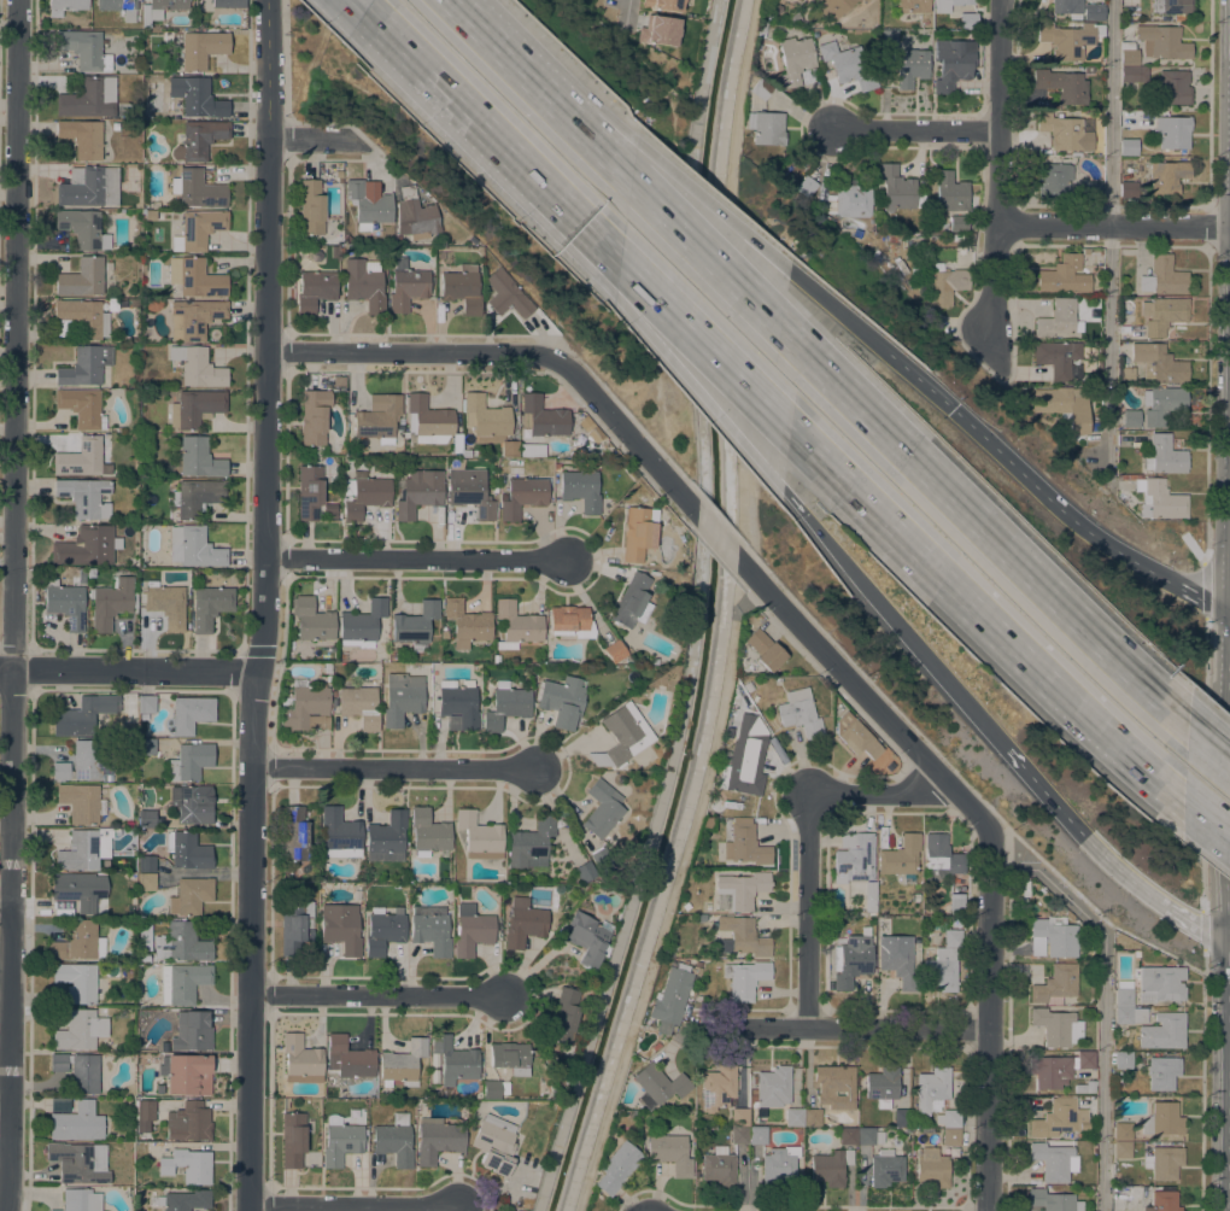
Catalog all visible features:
building: (863, 0)
building: (868, 0)
building: (228, 2)
building: (662, 4)
building: (949, 4)
building: (64, 6)
building: (912, 6)
building: (1066, 6)
building: (118, 7)
road: (357, 7)
building: (832, 7)
building: (1172, 7)
building: (159, 8)
building: (1093, 11)
road: (628, 18)
building: (967, 21)
building: (657, 30)
building: (889, 39)
building: (1066, 40)
building: (1161, 41)
building: (83, 48)
building: (201, 48)
building: (1127, 54)
building: (793, 60)
building: (953, 63)
building: (848, 64)
building: (910, 66)
road: (549, 71)
building: (1134, 74)
road: (428, 75)
building: (1062, 84)
building: (1173, 87)
building: (761, 88)
road: (540, 92)
building: (88, 98)
building: (198, 98)
building: (766, 127)
road: (915, 129)
building: (1068, 130)
building: (1172, 131)
building: (81, 138)
building: (198, 139)
road: (317, 140)
building: (1127, 146)
road: (997, 165)
building: (1166, 176)
building: (1054, 179)
building: (806, 186)
building: (88, 187)
building: (197, 189)
building: (898, 189)
building: (1094, 189)
building: (1127, 189)
building: (950, 191)
road: (558, 195)
building: (850, 200)
building: (368, 205)
road: (715, 206)
building: (311, 207)
building: (146, 213)
building: (415, 213)
road: (555, 217)
building: (957, 223)
road: (1113, 224)
building: (82, 228)
building: (198, 229)
road: (1109, 235)
building: (955, 236)
building: (347, 238)
building: (891, 238)
building: (1084, 251)
road: (709, 256)
building: (1064, 275)
building: (1162, 276)
building: (82, 277)
building: (194, 277)
building: (364, 283)
building: (408, 285)
building: (945, 285)
building: (462, 288)
building: (314, 289)
building: (506, 294)
building: (111, 304)
building: (152, 304)
road: (839, 311)
building: (1162, 314)
building: (195, 316)
building: (80, 318)
building: (1059, 318)
road: (709, 341)
road: (519, 355)
building: (1056, 357)
building: (1159, 363)
building: (84, 365)
building: (197, 367)
building: (1127, 374)
building: (338, 380)
road: (922, 381)
road: (701, 392)
building: (1161, 403)
building: (81, 406)
building: (1066, 406)
building: (195, 408)
traffic signals: (956, 410)
building: (541, 416)
building: (314, 417)
building: (377, 417)
building: (1131, 419)
building: (429, 422)
building: (488, 422)
building: (585, 422)
building: (465, 454)
building: (1165, 456)
building: (199, 457)
building: (82, 458)
building: (557, 467)
building: (1126, 476)
building: (469, 489)
building: (580, 489)
building: (309, 491)
building: (417, 492)
building: (82, 495)
building: (364, 495)
building: (195, 496)
building: (522, 496)
building: (1159, 499)
road: (1084, 523)
building: (673, 525)
road: (988, 527)
building: (638, 533)
road: (717, 538)
building: (87, 545)
building: (194, 546)
road: (418, 561)
building: (89, 572)
road: (748, 597)
building: (632, 601)
building: (111, 602)
building: (65, 603)
building: (164, 603)
road: (17, 605)
building: (210, 605)
road: (264, 605)
road: (890, 615)
road: (990, 616)
building: (570, 621)
building: (415, 622)
building: (467, 622)
building: (311, 624)
building: (362, 624)
building: (516, 625)
building: (765, 649)
building: (614, 651)
building: (496, 659)
building: (324, 667)
road: (128, 671)
road: (866, 695)
building: (402, 697)
building: (561, 700)
building: (145, 703)
building: (457, 704)
building: (359, 706)
building: (505, 706)
building: (305, 707)
building: (744, 707)
building: (799, 713)
building: (83, 714)
building: (188, 714)
building: (143, 716)
building: (622, 735)
building: (856, 735)
road: (1211, 743)
building: (146, 747)
building: (189, 761)
building: (83, 762)
building: (879, 768)
road: (398, 770)
building: (738, 771)
building: (81, 802)
building: (192, 803)
building: (716, 807)
building: (602, 808)
building: (147, 819)
road: (1208, 820)
road: (806, 829)
building: (428, 832)
building: (340, 833)
building: (294, 835)
building: (479, 835)
building: (386, 837)
building: (532, 842)
building: (744, 843)
building: (84, 849)
building: (187, 850)
road: (1105, 854)
building: (602, 855)
building: (854, 855)
building: (900, 855)
building: (939, 858)
building: (146, 864)
building: (584, 872)
building: (145, 882)
building: (742, 889)
building: (868, 889)
building: (75, 890)
building: (191, 896)
road: (7, 899)
building: (956, 903)
road: (668, 912)
building: (523, 922)
building: (295, 925)
building: (340, 928)
building: (430, 929)
building: (383, 930)
building: (470, 930)
building: (143, 936)
building: (743, 936)
building: (951, 937)
building: (1053, 937)
building: (587, 940)
building: (78, 942)
building: (182, 942)
building: (850, 960)
building: (897, 960)
building: (941, 970)
building: (744, 978)
building: (78, 982)
building: (182, 982)
building: (1160, 983)
building: (1055, 984)
building: (1123, 993)
road: (382, 994)
building: (673, 994)
road: (1102, 1004)
building: (1130, 1014)
building: (564, 1016)
road: (994, 1018)
building: (1056, 1026)
road: (847, 1029)
building: (80, 1030)
building: (192, 1030)
building: (1164, 1031)
building: (510, 1057)
building: (300, 1059)
building: (347, 1059)
building: (1085, 1060)
building: (1123, 1060)
building: (451, 1061)
building: (402, 1064)
building: (78, 1071)
building: (1050, 1071)
building: (1162, 1072)
building: (186, 1073)
building: (658, 1086)
building: (717, 1086)
building: (834, 1086)
building: (881, 1086)
building: (772, 1087)
building: (1085, 1087)
building: (158, 1088)
building: (932, 1088)
building: (493, 1089)
building: (162, 1099)
building: (59, 1105)
building: (145, 1110)
building: (356, 1116)
building: (739, 1117)
building: (793, 1117)
building: (812, 1117)
building: (901, 1117)
building: (948, 1118)
building: (1054, 1118)
building: (1162, 1119)
building: (76, 1122)
building: (188, 1122)
road: (7, 1129)
building: (1121, 1131)
building: (738, 1135)
building: (756, 1135)
building: (848, 1136)
building: (869, 1136)
building: (950, 1137)
building: (292, 1139)
building: (437, 1139)
building: (340, 1141)
building: (393, 1141)
building: (494, 1143)
building: (1121, 1149)
building: (670, 1152)
building: (1054, 1160)
building: (78, 1162)
building: (1164, 1162)
building: (779, 1164)
building: (187, 1165)
building: (830, 1165)
building: (717, 1166)
building: (616, 1168)
building: (885, 1168)
building: (932, 1168)
building: (1162, 1199)
building: (80, 1200)
building: (182, 1200)
building: (1053, 1200)
road: (353, 1206)

